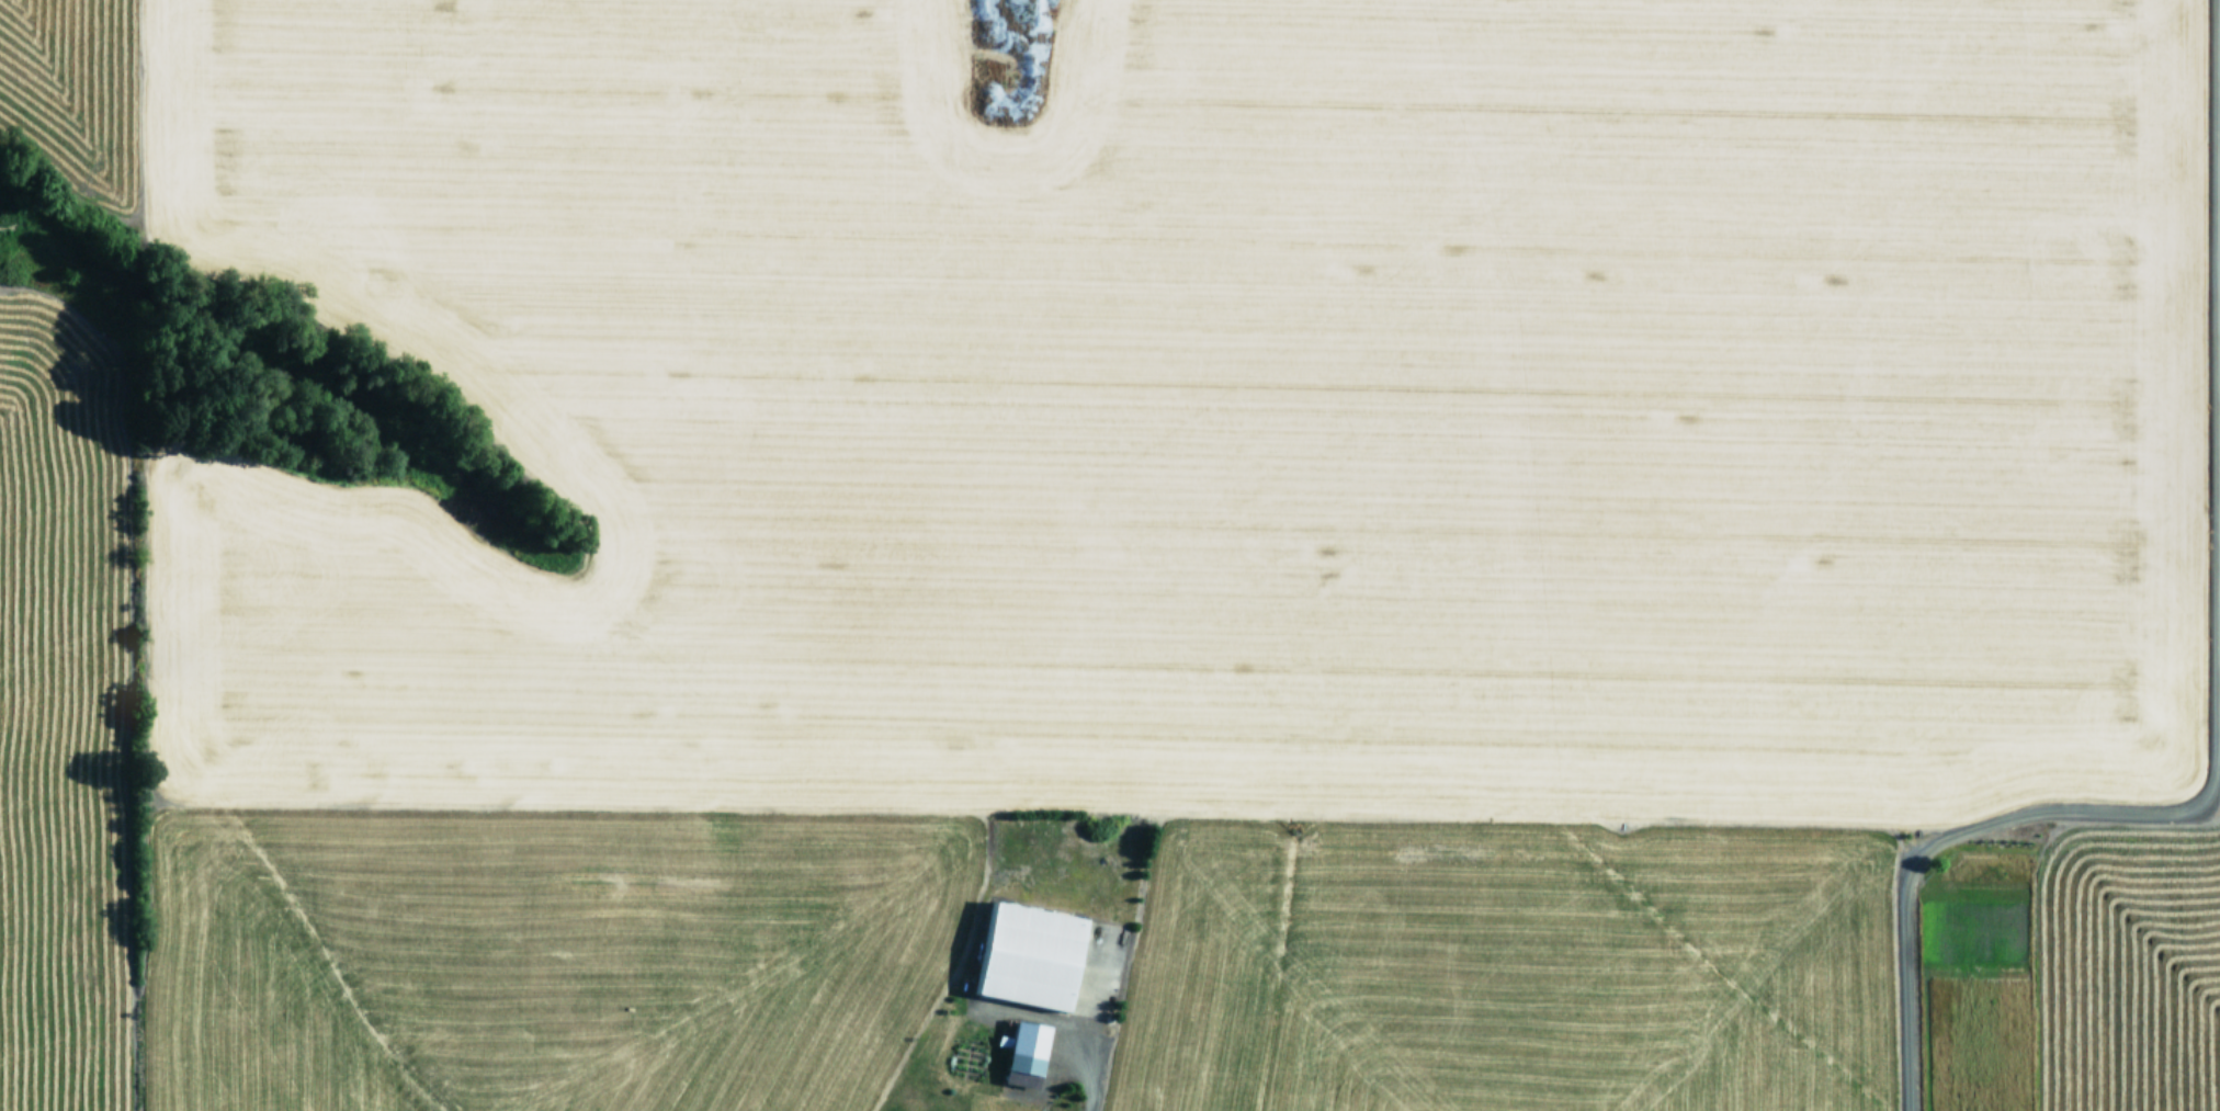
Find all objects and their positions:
crop: (1110, 555)
road: (1955, 852)
building: (1020, 957)
building: (1018, 1055)

